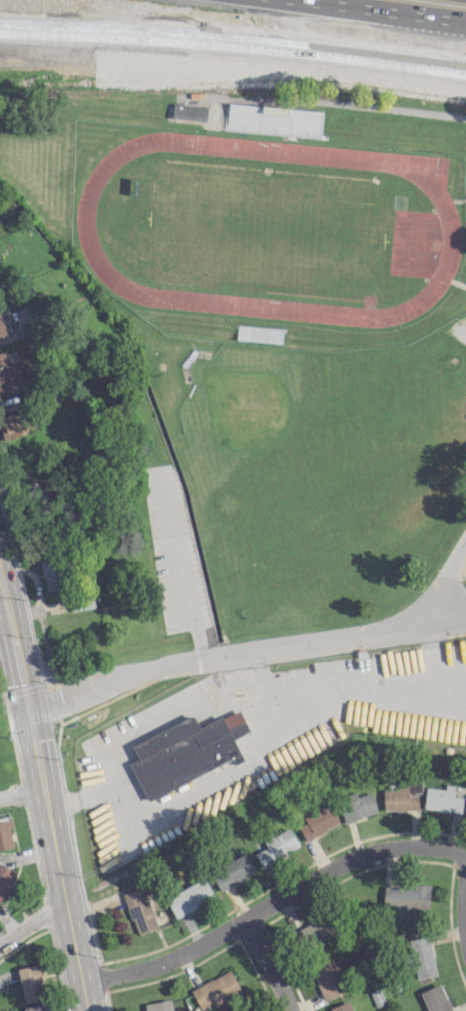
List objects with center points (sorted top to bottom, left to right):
road: (385, 10)
road: (327, 30)
road: (233, 42)
building: (189, 111)
building: (242, 118)
park: (268, 226)
track: (268, 227)
building: (2, 326)
building: (9, 372)
building: (13, 424)
building: (51, 573)
road: (182, 577)
road: (2, 581)
road: (444, 581)
road: (2, 592)
building: (85, 603)
road: (246, 653)
road: (377, 685)
road: (187, 706)
building: (186, 751)
road: (23, 794)
road: (82, 797)
building: (400, 797)
building: (442, 799)
road: (48, 801)
building: (357, 805)
building: (318, 820)
building: (5, 834)
building: (277, 847)
building: (232, 871)
building: (4, 877)
building: (127, 881)
road: (459, 887)
building: (407, 896)
building: (189, 897)
road: (276, 906)
building: (140, 911)
road: (35, 930)
building: (314, 932)
building: (422, 957)
road: (272, 965)
building: (326, 979)
building: (30, 983)
building: (216, 989)
building: (435, 999)
building: (159, 1005)
building: (36, 1007)
building: (341, 1007)
building: (250, 1010)

